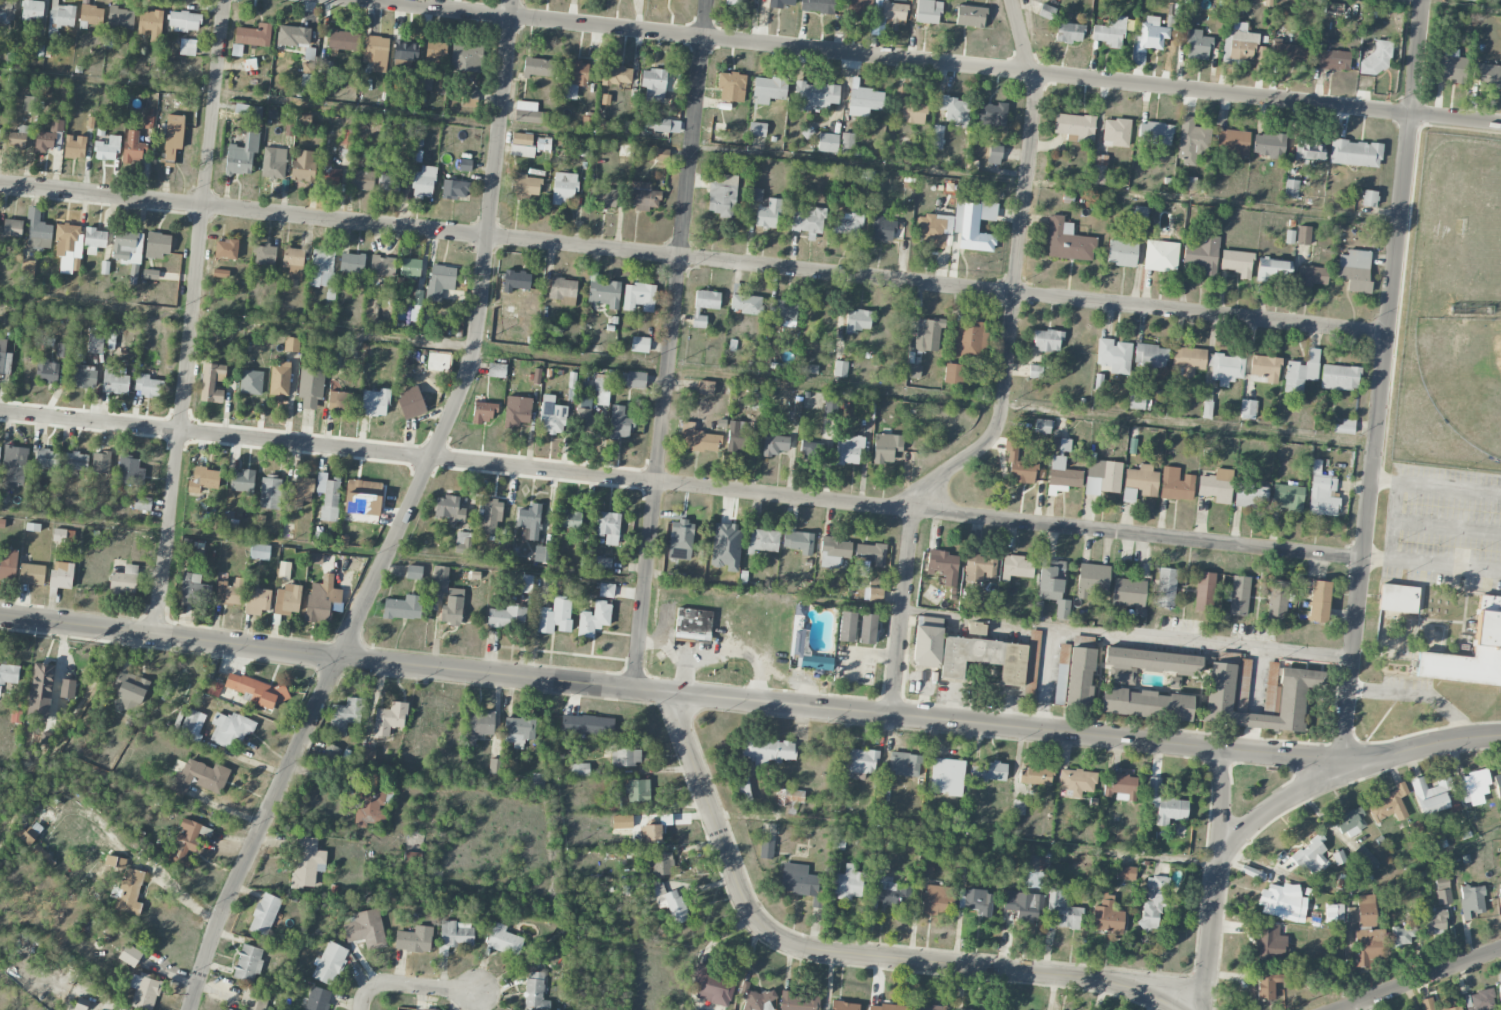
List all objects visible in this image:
building: (735, 2)
road: (1404, 2)
building: (780, 3)
building: (817, 6)
building: (859, 8)
building: (32, 9)
building: (7, 11)
building: (894, 11)
building: (928, 11)
building: (1046, 12)
building: (91, 14)
building: (970, 15)
building: (60, 17)
building: (120, 18)
building: (1186, 19)
building: (184, 21)
building: (150, 25)
building: (877, 26)
building: (1070, 32)
building: (1109, 32)
building: (253, 35)
road: (692, 35)
building: (293, 36)
road: (1019, 36)
building: (1147, 39)
building: (344, 41)
building: (1239, 44)
building: (1198, 45)
building: (187, 47)
building: (375, 52)
building: (435, 53)
building: (405, 54)
building: (1289, 54)
building: (465, 58)
building: (1377, 59)
building: (1333, 60)
building: (1451, 66)
building: (323, 67)
building: (538, 67)
road: (1033, 72)
building: (306, 74)
building: (616, 75)
building: (1487, 75)
building: (574, 78)
building: (654, 84)
building: (731, 87)
building: (769, 89)
building: (900, 95)
building: (814, 96)
building: (469, 98)
road: (1268, 98)
building: (30, 104)
building: (955, 109)
building: (248, 110)
building: (911, 112)
building: (529, 113)
building: (993, 115)
building: (662, 124)
building: (1071, 125)
building: (757, 129)
building: (1116, 132)
building: (1155, 133)
building: (47, 136)
building: (18, 137)
building: (346, 137)
building: (171, 138)
building: (937, 140)
building: (1191, 140)
building: (1232, 140)
building: (847, 142)
building: (828, 143)
building: (1269, 143)
building: (522, 144)
building: (543, 144)
building: (74, 147)
building: (134, 147)
road: (699, 147)
building: (107, 148)
building: (624, 149)
building: (581, 150)
building: (1309, 152)
building: (1354, 153)
building: (658, 154)
building: (994, 154)
building: (242, 155)
building: (415, 155)
building: (273, 162)
building: (465, 165)
building: (303, 166)
building: (1098, 169)
building: (329, 173)
building: (867, 178)
building: (361, 180)
building: (388, 180)
building: (423, 182)
building: (525, 186)
building: (563, 187)
building: (454, 189)
building: (1290, 189)
building: (722, 194)
building: (756, 195)
building: (643, 196)
building: (603, 198)
building: (1369, 198)
building: (987, 211)
building: (768, 214)
building: (1139, 214)
building: (808, 222)
building: (847, 225)
building: (12, 228)
building: (882, 229)
building: (933, 229)
building: (970, 229)
building: (38, 231)
building: (1303, 235)
building: (94, 240)
building: (1067, 241)
building: (158, 244)
building: (68, 247)
building: (128, 249)
building: (226, 249)
building: (1161, 250)
building: (1121, 253)
building: (1201, 254)
building: (265, 255)
road: (694, 255)
building: (1237, 261)
building: (293, 262)
building: (352, 263)
building: (382, 266)
building: (410, 267)
building: (28, 269)
building: (1273, 269)
building: (323, 270)
building: (1355, 270)
building: (220, 273)
building: (150, 274)
building: (1312, 276)
building: (516, 280)
building: (440, 281)
building: (563, 290)
building: (604, 293)
building: (639, 297)
building: (707, 299)
building: (747, 304)
building: (781, 312)
road: (190, 316)
road: (1011, 316)
building: (699, 320)
building: (857, 320)
building: (928, 335)
building: (1047, 340)
building: (971, 341)
road: (477, 342)
building: (95, 343)
building: (291, 344)
building: (639, 344)
road: (670, 344)
building: (64, 350)
building: (1114, 355)
building: (1150, 357)
building: (4, 358)
building: (1188, 358)
building: (443, 359)
building: (1227, 367)
building: (1265, 368)
road: (688, 369)
building: (840, 369)
building: (46, 370)
building: (497, 370)
building: (913, 371)
building: (1035, 371)
building: (1301, 372)
building: (953, 373)
building: (1051, 373)
building: (83, 376)
building: (1338, 377)
building: (279, 380)
building: (636, 380)
building: (114, 382)
building: (212, 382)
building: (251, 382)
building: (601, 382)
building: (148, 384)
road: (1383, 384)
building: (310, 386)
building: (705, 387)
building: (339, 400)
building: (756, 400)
building: (585, 401)
building: (374, 402)
building: (411, 402)
building: (1136, 402)
building: (1248, 409)
building: (1207, 410)
building: (517, 411)
building: (483, 412)
building: (867, 412)
building: (552, 416)
building: (587, 423)
building: (619, 423)
building: (1042, 426)
building: (1344, 427)
building: (737, 435)
building: (698, 439)
building: (775, 444)
building: (1062, 444)
building: (886, 447)
building: (812, 450)
building: (849, 451)
road: (447, 457)
building: (46, 458)
building: (76, 462)
building: (1018, 464)
building: (14, 465)
building: (130, 471)
building: (1102, 476)
building: (1064, 477)
building: (203, 479)
building: (1142, 479)
building: (242, 481)
building: (1176, 484)
building: (1216, 485)
road: (1437, 485)
building: (300, 491)
building: (270, 492)
building: (1322, 492)
building: (1251, 495)
building: (328, 496)
building: (363, 497)
building: (1288, 497)
building: (142, 503)
building: (449, 509)
road: (903, 510)
building: (490, 516)
building: (569, 519)
building: (529, 521)
building: (231, 524)
building: (608, 527)
road: (193, 531)
road: (1138, 535)
building: (60, 536)
building: (680, 539)
building: (763, 541)
building: (463, 542)
building: (798, 542)
building: (726, 546)
building: (834, 551)
building: (260, 552)
building: (870, 553)
building: (540, 554)
building: (315, 558)
road: (1432, 561)
building: (8, 564)
building: (601, 564)
building: (943, 566)
building: (980, 567)
building: (1016, 567)
building: (283, 570)
building: (413, 571)
building: (31, 574)
building: (61, 575)
building: (440, 577)
building: (124, 580)
building: (541, 581)
building: (1092, 582)
building: (526, 583)
building: (193, 586)
building: (1053, 586)
building: (1165, 588)
building: (1130, 589)
building: (606, 590)
building: (1204, 591)
building: (229, 592)
building: (1238, 595)
building: (877, 596)
building: (1398, 598)
building: (287, 599)
building: (322, 599)
building: (1277, 599)
building: (257, 600)
building: (1318, 601)
building: (403, 607)
building: (452, 607)
road: (901, 613)
building: (555, 616)
building: (507, 617)
building: (594, 619)
road: (997, 620)
building: (1487, 623)
building: (693, 625)
building: (847, 626)
building: (867, 628)
building: (976, 628)
road: (169, 634)
building: (796, 641)
building: (927, 646)
road: (721, 651)
building: (984, 658)
building: (1032, 662)
building: (1148, 663)
road: (690, 672)
building: (9, 674)
building: (1061, 674)
road: (1046, 678)
building: (1080, 678)
building: (1174, 682)
building: (1270, 685)
building: (67, 688)
building: (130, 689)
building: (40, 690)
building: (255, 690)
road: (1419, 695)
building: (1226, 697)
building: (1146, 704)
building: (345, 714)
building: (16, 716)
road: (921, 718)
building: (389, 719)
building: (192, 725)
building: (479, 725)
building: (587, 725)
building: (230, 730)
building: (518, 730)
road: (61, 732)
building: (45, 738)
building: (767, 751)
building: (335, 754)
building: (365, 754)
building: (626, 756)
building: (862, 760)
building: (903, 763)
building: (495, 766)
building: (579, 769)
building: (989, 771)
building: (1034, 775)
building: (198, 777)
building: (946, 777)
building: (538, 780)
building: (1077, 781)
building: (1497, 783)
building: (1121, 787)
building: (1473, 787)
building: (741, 789)
building: (637, 790)
building: (789, 796)
building: (1435, 796)
building: (609, 803)
building: (1165, 804)
building: (1389, 804)
building: (372, 806)
road: (1271, 806)
building: (1019, 807)
building: (1350, 822)
building: (1417, 826)
road: (258, 831)
building: (651, 833)
building: (28, 835)
road: (964, 836)
building: (184, 842)
building: (766, 849)
building: (411, 854)
building: (43, 856)
building: (1311, 856)
building: (1339, 858)
building: (1365, 858)
building: (115, 862)
building: (307, 862)
building: (1032, 862)
building: (661, 864)
building: (926, 865)
road: (1266, 867)
building: (1125, 873)
road: (1216, 877)
building: (800, 882)
building: (846, 883)
building: (1441, 885)
building: (130, 892)
building: (1500, 892)
building: (890, 893)
building: (934, 900)
building: (1471, 900)
building: (977, 902)
building: (1153, 902)
building: (1283, 902)
building: (673, 905)
building: (1023, 906)
building: (1061, 908)
building: (1334, 913)
building: (264, 914)
building: (1351, 914)
building: (1106, 915)
building: (1433, 921)
road: (573, 927)
building: (366, 929)
road: (721, 930)
building: (1368, 932)
building: (456, 934)
building: (1400, 937)
building: (414, 939)
building: (503, 940)
building: (1268, 940)
building: (131, 954)
road: (842, 955)
building: (248, 963)
building: (329, 963)
building: (1300, 970)
building: (1327, 970)
road: (1427, 977)
building: (1268, 984)
road: (411, 985)
building: (712, 987)
building: (1499, 991)
building: (144, 992)
building: (535, 992)
building: (755, 998)
building: (257, 999)
building: (316, 999)
building: (1481, 1000)
building: (799, 1001)
building: (1436, 1005)
building: (844, 1006)
building: (885, 1007)
building: (925, 1008)
road: (1347, 1008)
road: (1353, 1008)
building: (226, 1009)
building: (396, 1009)
building: (423, 1009)

